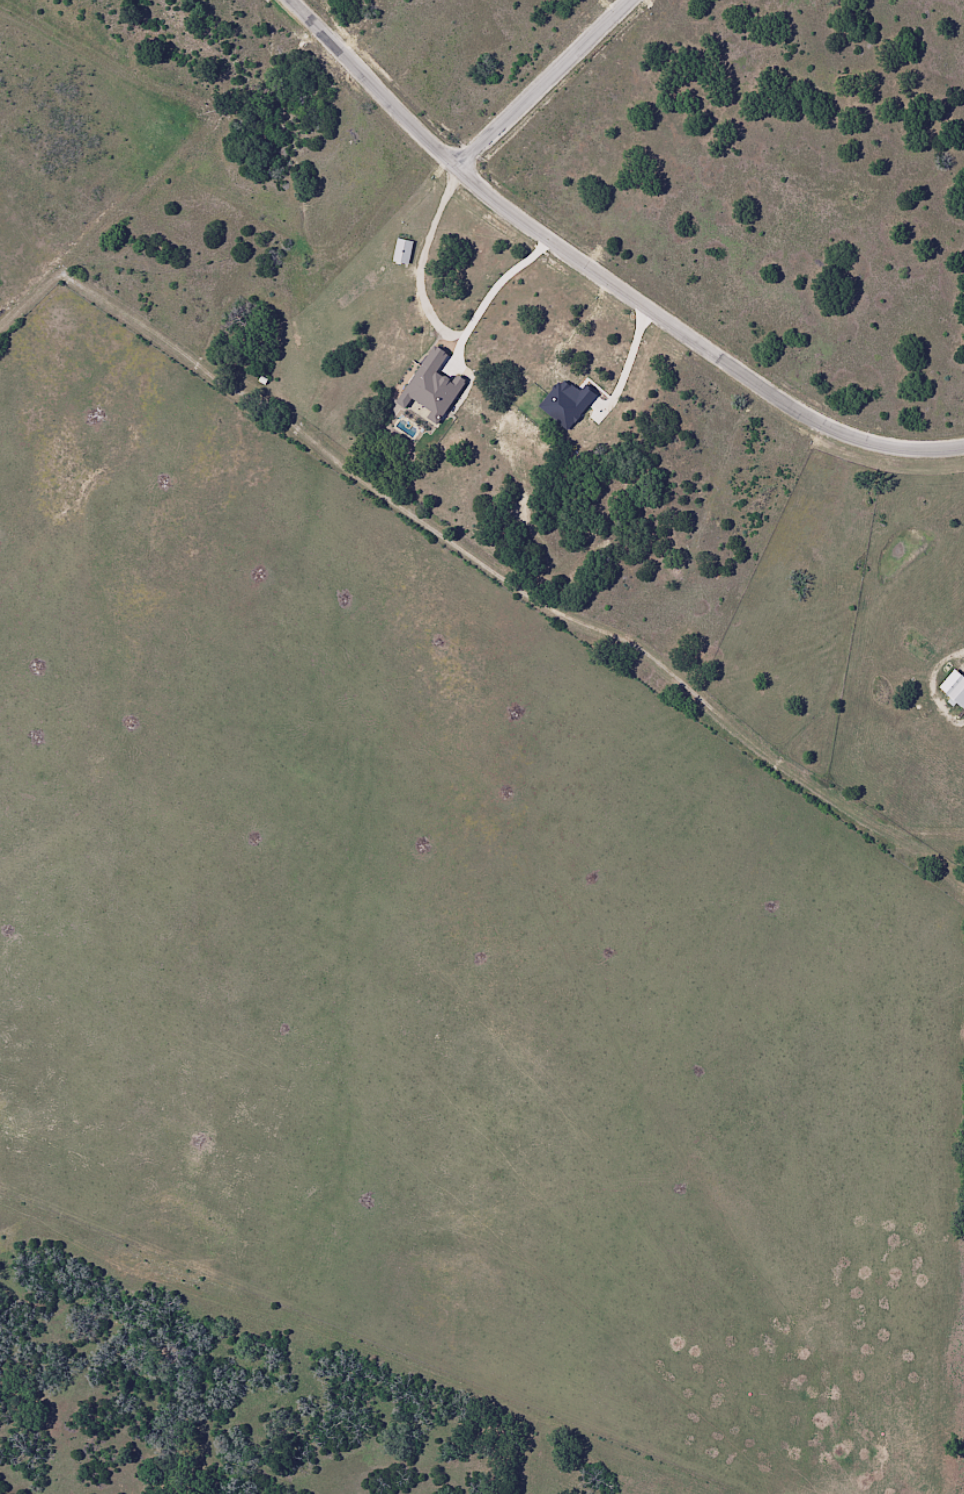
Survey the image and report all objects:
road: (547, 82)
building: (405, 253)
road: (604, 272)
building: (437, 389)
building: (569, 402)
building: (956, 690)

